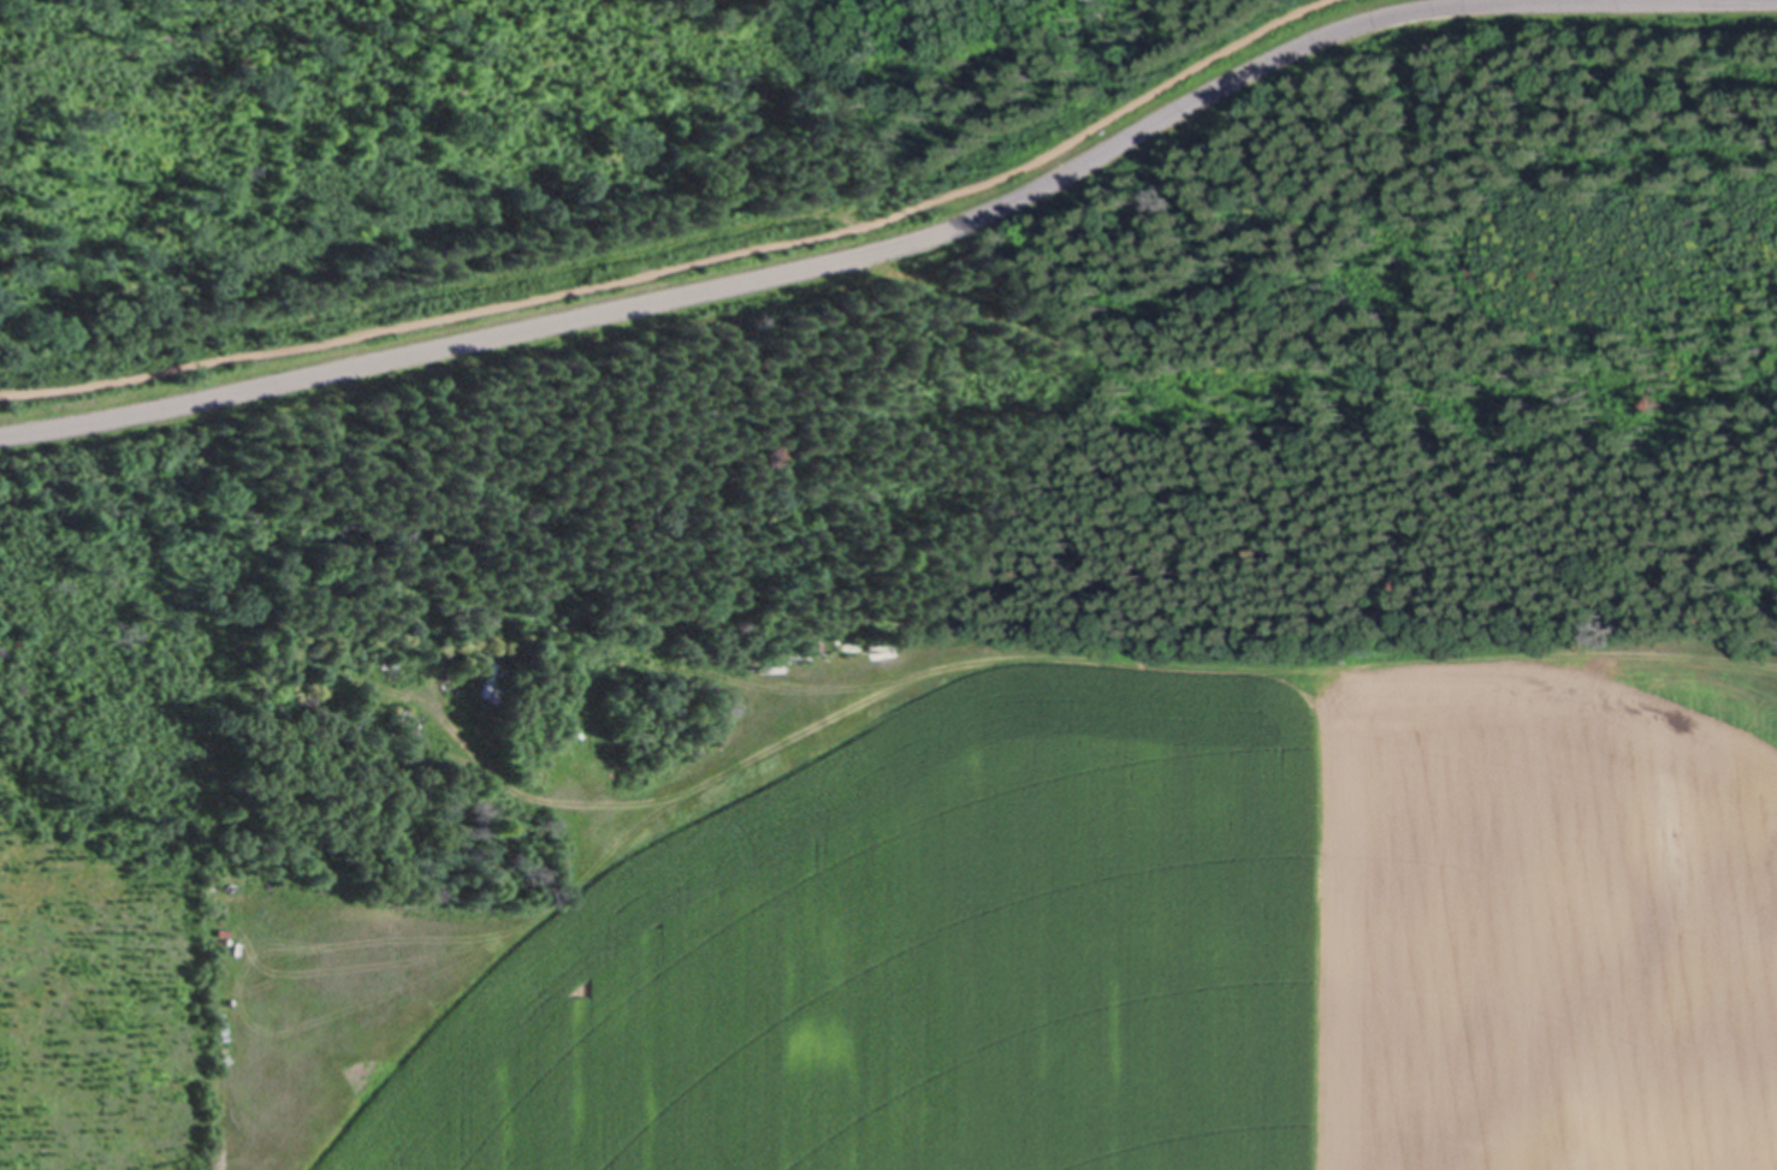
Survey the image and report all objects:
road: (905, 244)
road: (689, 261)
building: (851, 646)
crop: (982, 890)

